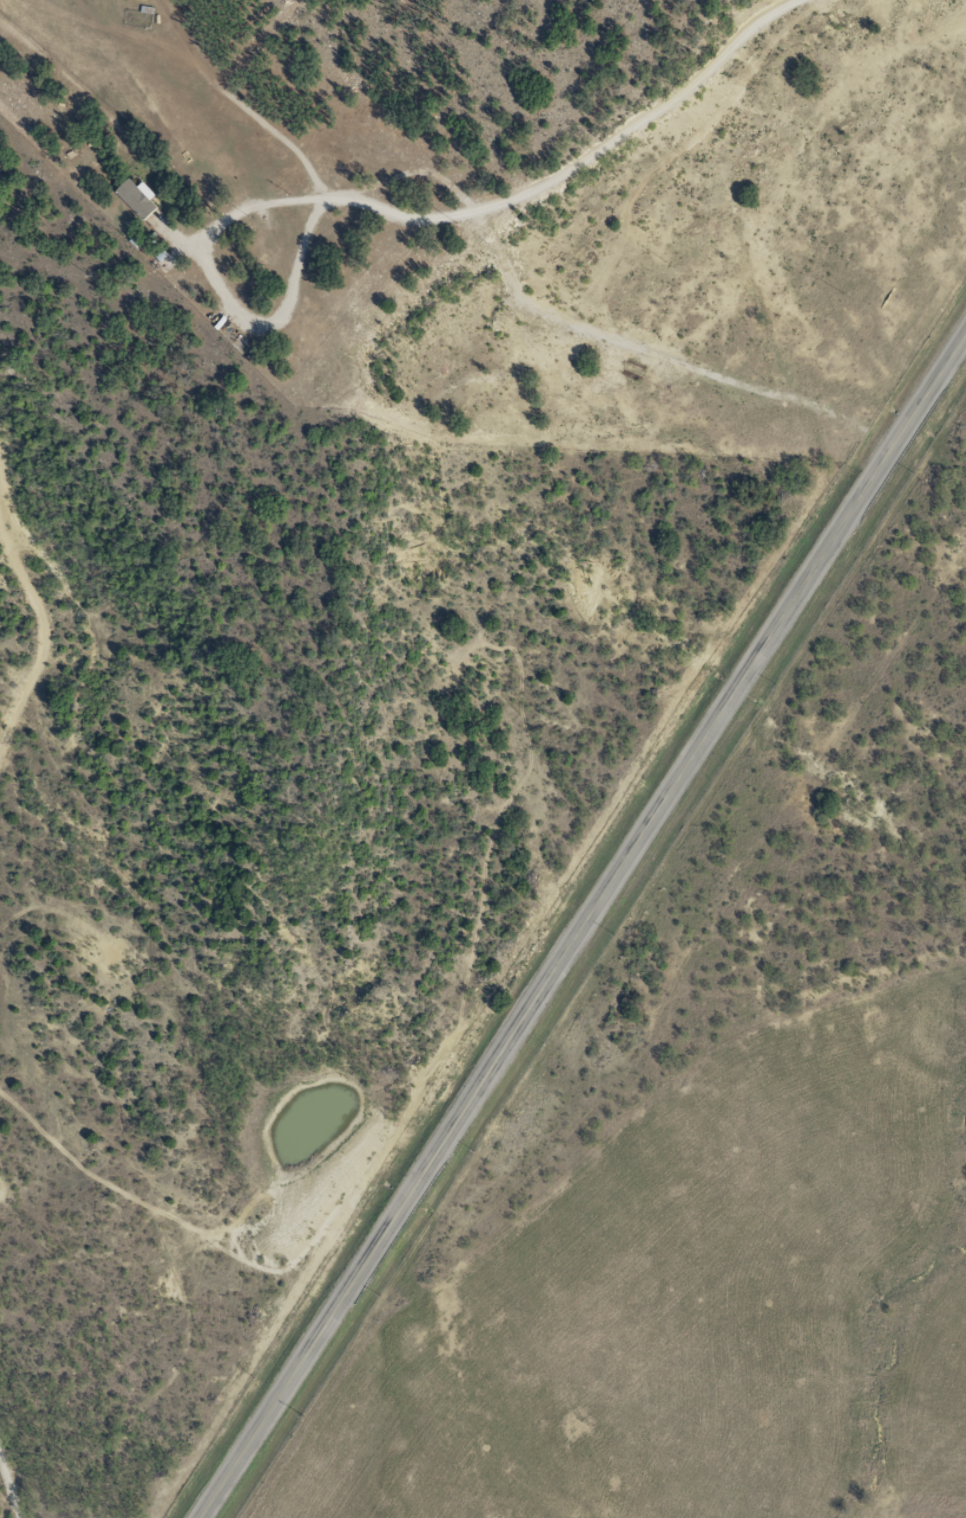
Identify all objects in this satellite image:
building: (204, 190)
road: (583, 924)

